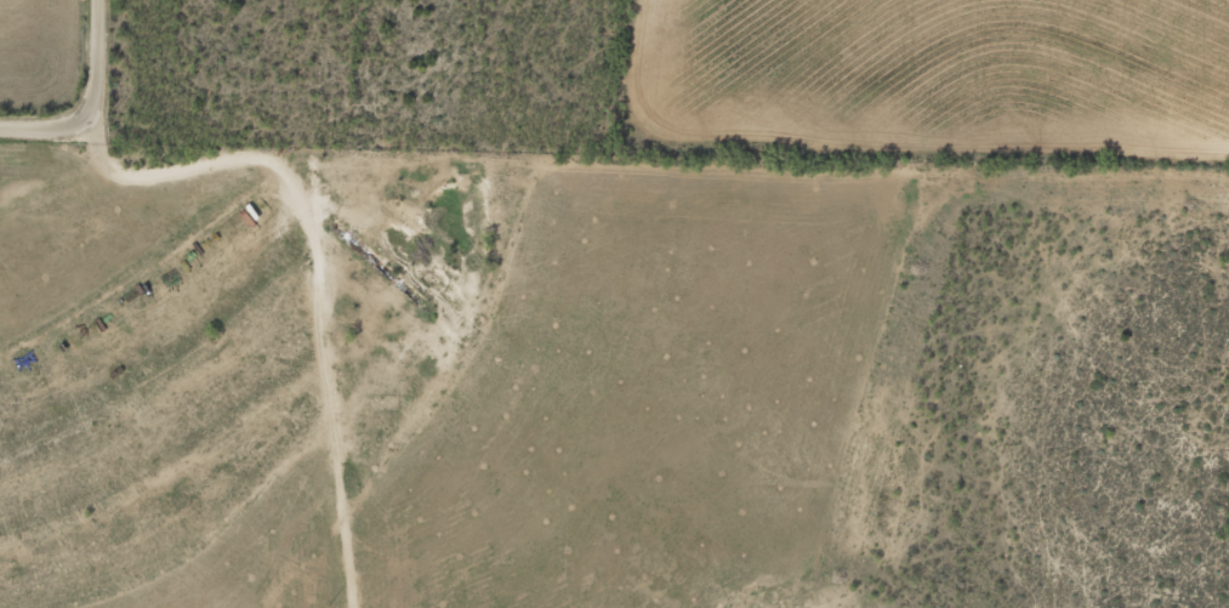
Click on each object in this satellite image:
road: (110, 101)
road: (322, 299)

